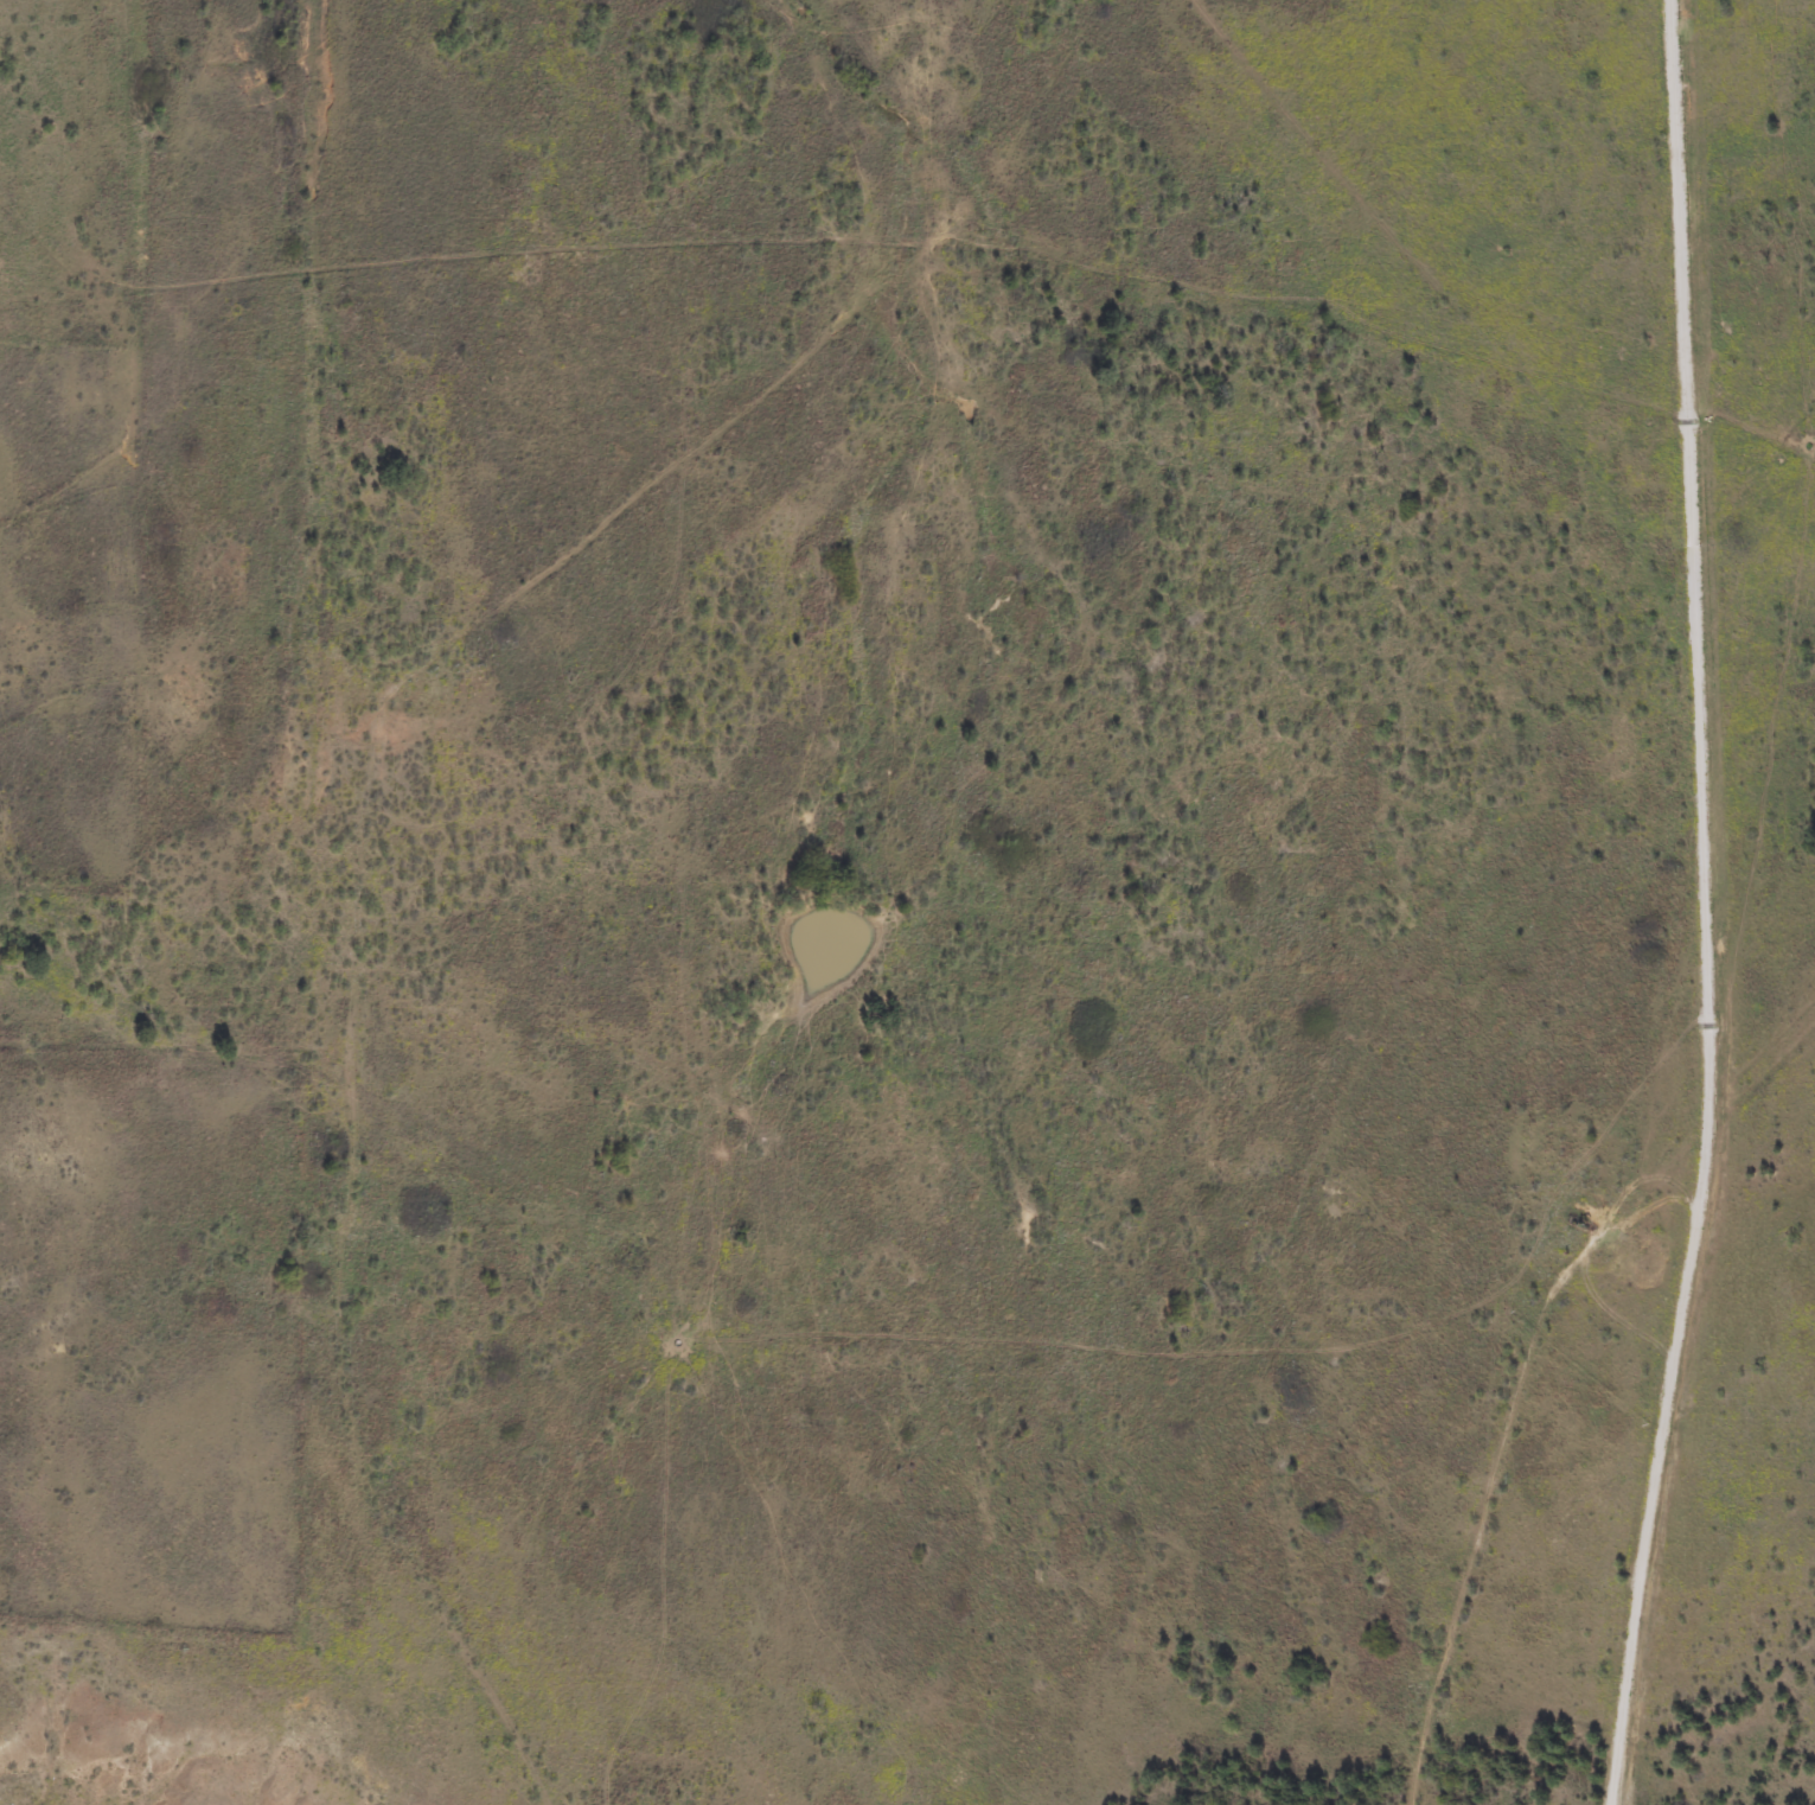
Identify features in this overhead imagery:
road: (1700, 905)

